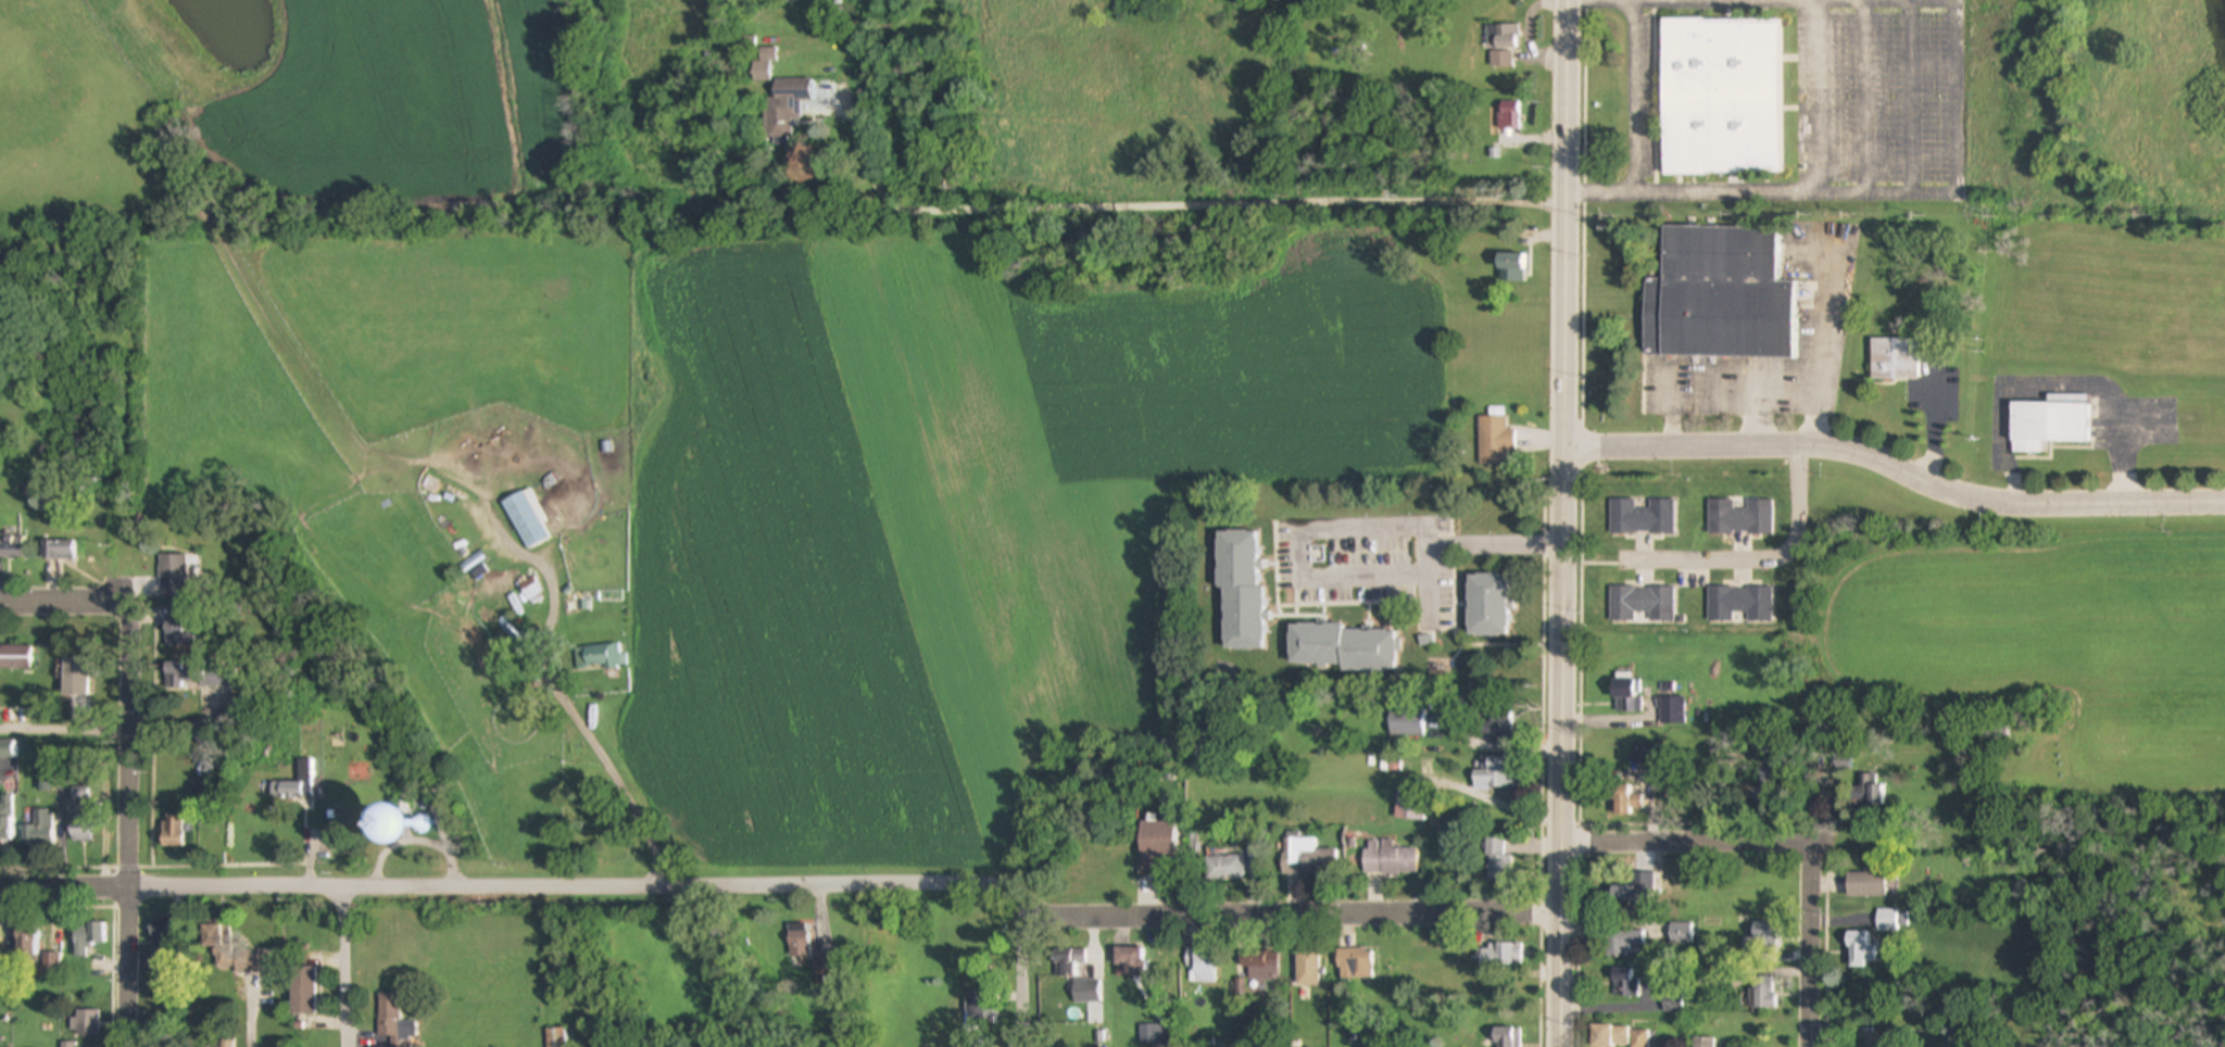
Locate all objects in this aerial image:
road: (1631, 2)
building: (1501, 43)
building: (762, 65)
building: (1720, 83)
building: (784, 105)
park: (287, 109)
road: (1635, 113)
building: (1509, 116)
road: (1958, 168)
road: (1814, 184)
road: (1154, 204)
building: (1510, 268)
building: (1720, 283)
road: (1826, 341)
building: (1894, 358)
road: (2056, 384)
road: (1673, 407)
road: (1758, 407)
building: (2048, 425)
road: (1935, 426)
building: (1491, 430)
road: (1897, 469)
building: (1641, 517)
building: (526, 518)
building: (1739, 518)
road: (1564, 522)
road: (1579, 522)
road: (1447, 529)
building: (12, 548)
building: (58, 551)
road: (1267, 557)
road: (1761, 560)
road: (1272, 568)
building: (172, 571)
road: (1354, 577)
building: (1240, 579)
building: (1486, 593)
road: (1378, 597)
road: (1380, 597)
road: (1455, 597)
road: (65, 601)
road: (1294, 601)
building: (1641, 601)
building: (1693, 602)
building: (1740, 602)
road: (1271, 610)
road: (1444, 622)
road: (1450, 629)
crop: (2033, 633)
building: (1341, 635)
road: (1450, 647)
building: (13, 658)
building: (598, 658)
building: (203, 676)
building: (74, 685)
building: (1626, 695)
building: (1672, 711)
building: (1405, 722)
building: (1497, 726)
road: (64, 732)
road: (148, 734)
railway: (538, 745)
building: (5, 750)
road: (1538, 768)
building: (1493, 773)
road: (609, 775)
building: (297, 784)
building: (1866, 793)
building: (1623, 800)
building: (1410, 805)
building: (80, 816)
building: (4, 818)
building: (384, 822)
road: (128, 823)
water tower: (419, 823)
building: (38, 830)
building: (173, 831)
road: (412, 836)
road: (1682, 842)
building: (1195, 844)
building: (1158, 849)
building: (1253, 859)
building: (1306, 859)
building: (1390, 859)
road: (180, 860)
building: (1497, 860)
building: (1224, 868)
road: (784, 882)
building: (1874, 885)
building: (1622, 895)
road: (106, 922)
building: (1764, 934)
building: (1681, 936)
building: (87, 937)
building: (1623, 942)
building: (797, 943)
building: (160, 944)
road: (1805, 945)
building: (25, 948)
building: (1860, 949)
building: (234, 950)
building: (1503, 956)
building: (1129, 962)
building: (1202, 962)
building: (51, 963)
road: (345, 963)
building: (1068, 963)
building: (1355, 963)
road: (1020, 964)
building: (1259, 966)
building: (1307, 969)
building: (1624, 983)
building: (302, 991)
building: (1080, 992)
building: (1763, 993)
building: (980, 1009)
building: (388, 1017)
building: (85, 1024)
building: (1508, 1037)
building: (1620, 1037)
building: (555, 1038)
building: (1702, 1043)
building: (68, 1045)

